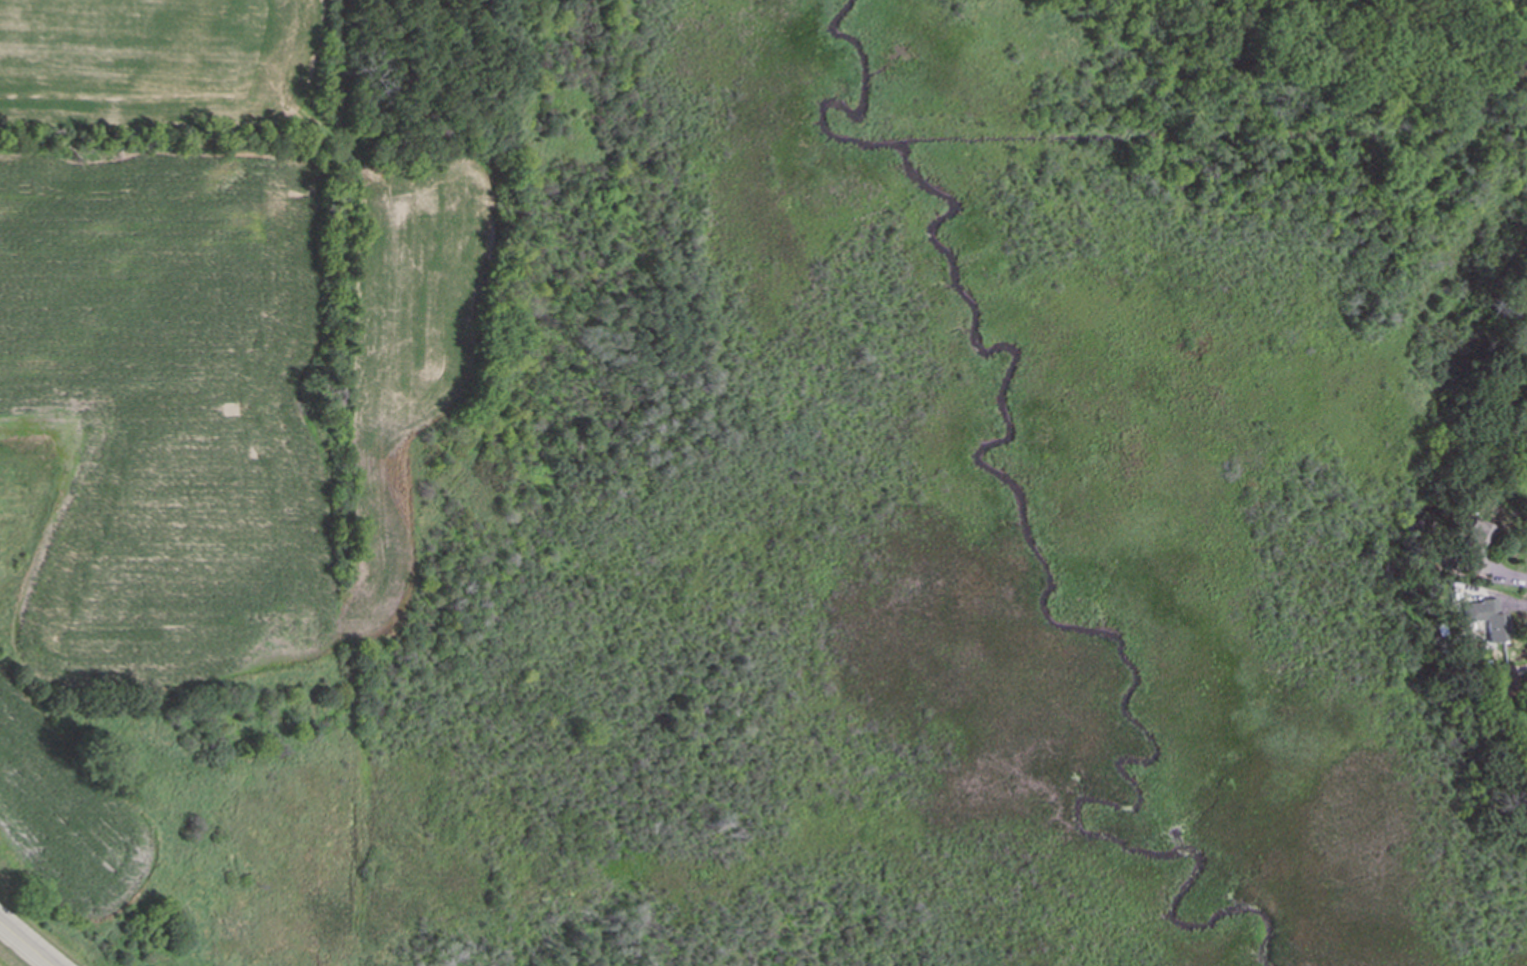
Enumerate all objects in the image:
building: (1475, 546)
building: (1488, 619)
building: (1507, 678)
road: (26, 944)

